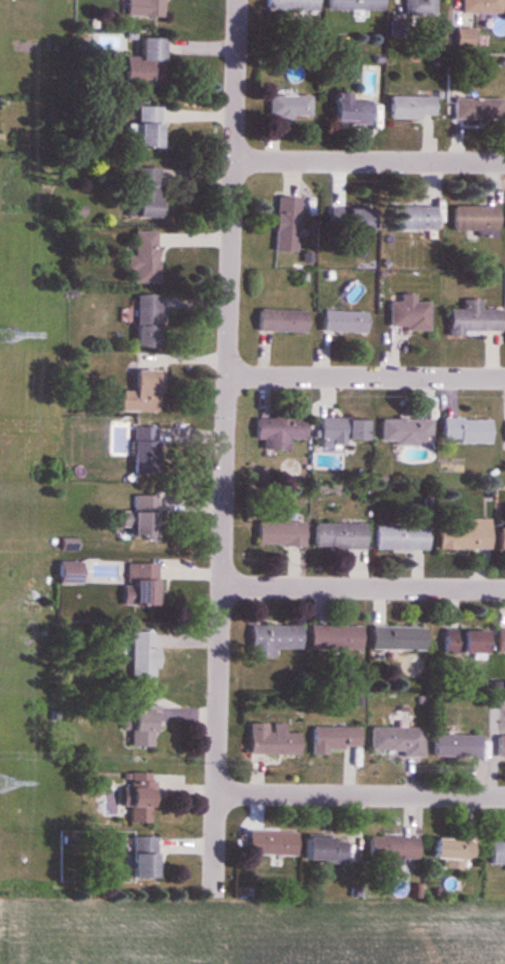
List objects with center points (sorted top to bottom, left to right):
building: (289, 4)
building: (352, 4)
building: (478, 6)
building: (141, 8)
building: (413, 8)
building: (461, 37)
building: (142, 63)
building: (287, 105)
building: (409, 106)
building: (345, 109)
building: (475, 109)
building: (146, 126)
road: (371, 158)
building: (142, 194)
building: (411, 218)
building: (471, 218)
building: (351, 219)
building: (283, 224)
building: (141, 257)
building: (406, 314)
building: (471, 319)
building: (144, 321)
building: (278, 321)
building: (341, 321)
power tower: (3, 335)
road: (367, 375)
building: (138, 393)
building: (464, 430)
building: (339, 431)
building: (403, 431)
building: (504, 432)
building: (276, 433)
road: (227, 442)
building: (141, 449)
building: (137, 520)
building: (278, 533)
building: (462, 535)
building: (336, 536)
building: (398, 538)
building: (500, 539)
building: (65, 572)
building: (138, 585)
road: (364, 585)
building: (332, 637)
building: (395, 638)
building: (271, 639)
building: (499, 641)
building: (461, 642)
building: (140, 659)
building: (140, 726)
building: (333, 739)
building: (269, 740)
building: (393, 741)
building: (453, 746)
building: (499, 746)
road: (362, 790)
building: (137, 797)
building: (269, 843)
building: (321, 849)
building: (390, 849)
building: (496, 853)
building: (449, 854)
building: (140, 857)

